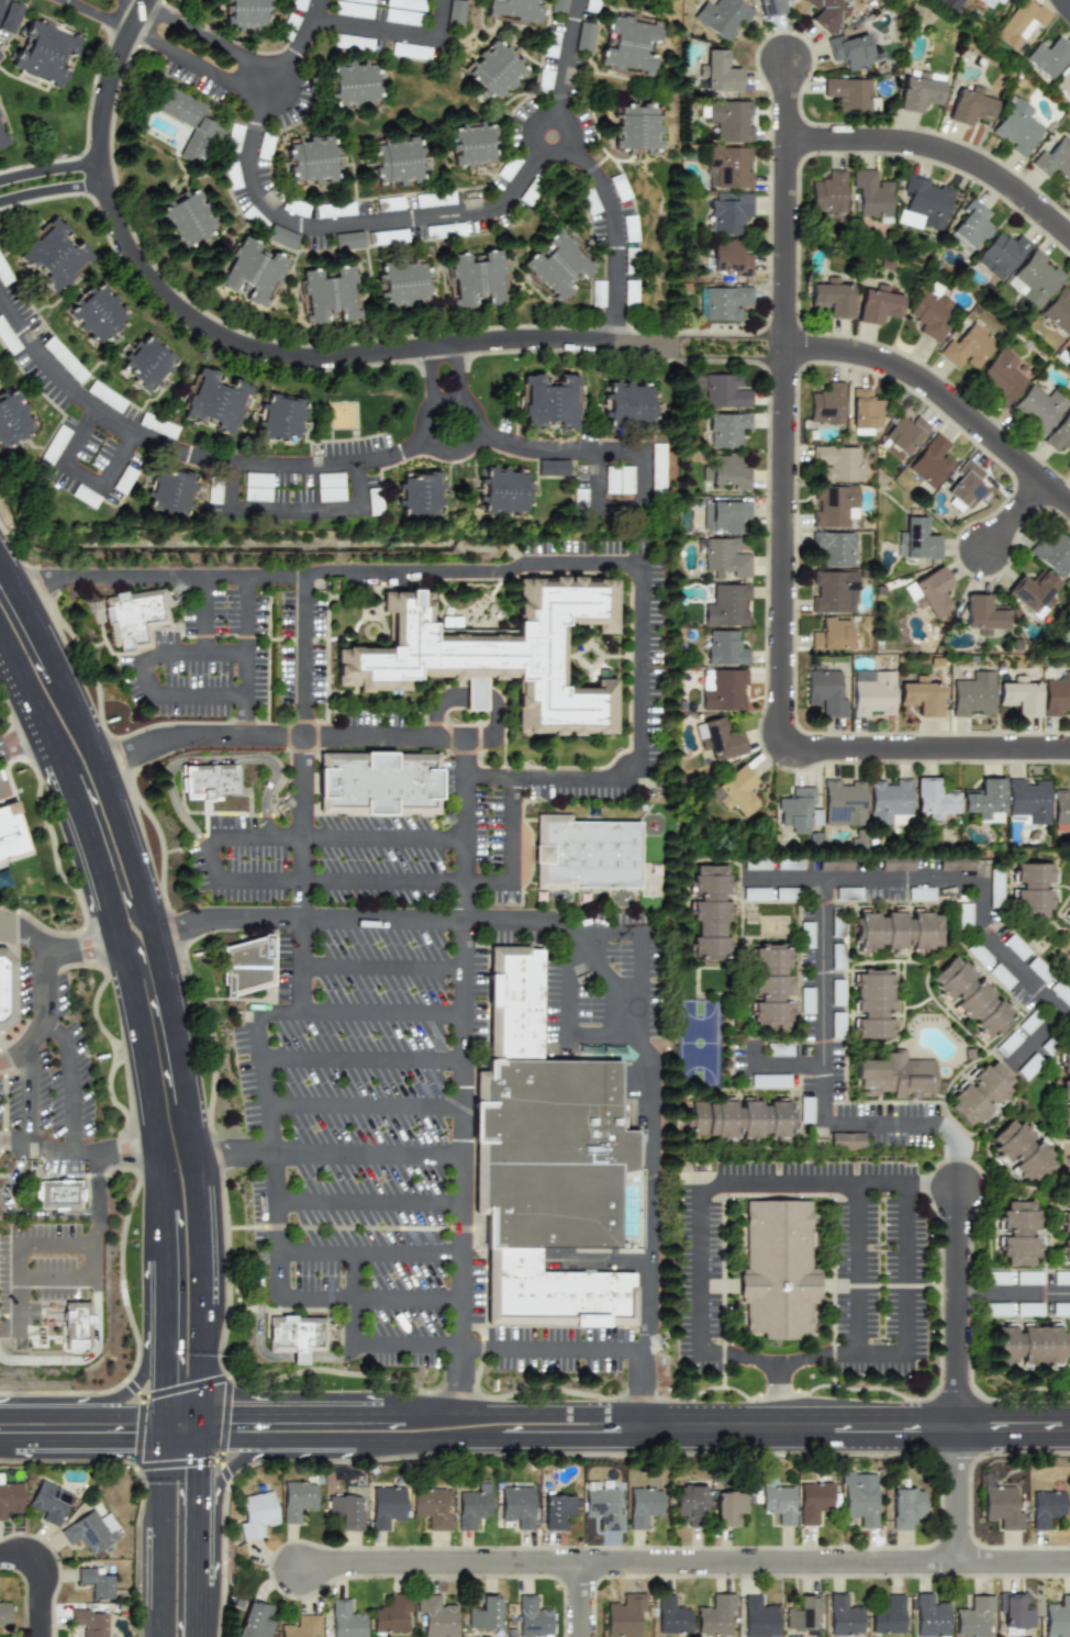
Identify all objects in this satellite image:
building: (990, 2)
building: (950, 3)
road: (1067, 3)
building: (561, 7)
building: (770, 7)
road: (3, 8)
building: (517, 8)
building: (250, 11)
building: (459, 13)
building: (826, 13)
building: (722, 16)
building: (1019, 23)
street lamp: (795, 31)
road: (395, 34)
building: (589, 35)
road: (208, 37)
road: (302, 38)
building: (632, 43)
road: (164, 47)
building: (48, 51)
building: (849, 51)
building: (1048, 56)
road: (566, 68)
building: (495, 70)
building: (718, 71)
building: (357, 81)
building: (1063, 83)
building: (918, 93)
building: (848, 94)
building: (970, 107)
building: (191, 120)
building: (731, 120)
street lamp: (893, 123)
building: (643, 126)
building: (1017, 126)
building: (3, 134)
street lamp: (771, 144)
building: (476, 145)
road: (941, 149)
building: (1055, 158)
building: (315, 159)
building: (400, 159)
building: (729, 166)
road: (52, 167)
building: (828, 192)
building: (871, 193)
road: (53, 194)
building: (926, 201)
building: (728, 212)
street lamp: (1016, 213)
building: (190, 216)
road: (356, 224)
building: (969, 226)
road: (616, 230)
building: (287, 235)
building: (354, 241)
building: (56, 255)
building: (1001, 255)
building: (729, 257)
building: (562, 266)
building: (254, 270)
building: (1034, 278)
building: (481, 279)
building: (409, 282)
street lamp: (769, 283)
building: (333, 293)
building: (832, 298)
building: (726, 302)
building: (878, 305)
building: (1058, 310)
building: (99, 312)
building: (930, 313)
street lamp: (818, 332)
road: (729, 337)
road: (253, 346)
building: (968, 347)
road: (729, 357)
building: (152, 360)
building: (1001, 377)
road: (460, 390)
building: (725, 391)
street lamp: (909, 393)
road: (436, 394)
road: (943, 394)
road: (450, 402)
building: (218, 403)
building: (551, 403)
building: (828, 404)
building: (627, 405)
building: (1038, 408)
building: (863, 409)
street lamp: (768, 413)
building: (282, 416)
building: (13, 420)
building: (727, 428)
building: (1059, 434)
building: (904, 435)
street lamp: (1035, 450)
road: (560, 453)
road: (181, 454)
road: (455, 455)
building: (930, 461)
building: (837, 463)
building: (727, 472)
road: (88, 478)
building: (963, 487)
building: (506, 490)
building: (175, 493)
building: (424, 494)
building: (833, 505)
road: (623, 511)
road: (333, 514)
road: (1015, 515)
road: (258, 516)
building: (724, 516)
street lamp: (802, 530)
building: (916, 539)
road: (784, 545)
building: (834, 547)
road: (500, 548)
building: (1052, 553)
building: (724, 557)
road: (522, 566)
street lamp: (973, 578)
building: (933, 591)
building: (834, 592)
building: (1033, 592)
building: (911, 593)
road: (21, 598)
building: (726, 605)
building: (981, 613)
road: (207, 615)
building: (132, 620)
building: (832, 636)
building: (725, 648)
building: (505, 650)
road: (247, 657)
road: (605, 657)
road: (304, 658)
street lamp: (767, 667)
road: (149, 678)
building: (722, 689)
building: (825, 692)
building: (872, 692)
building: (972, 694)
building: (1056, 694)
road: (479, 695)
building: (921, 695)
building: (1019, 695)
street lamp: (854, 732)
building: (700, 736)
building: (721, 739)
road: (20, 745)
road: (213, 761)
street lamp: (1008, 766)
street lamp: (30, 770)
building: (211, 784)
building: (376, 784)
road: (2, 786)
building: (737, 791)
building: (933, 799)
building: (889, 800)
building: (1028, 800)
building: (985, 801)
building: (844, 802)
building: (1061, 806)
building: (799, 810)
building: (10, 832)
building: (589, 856)
building: (757, 862)
building: (789, 862)
building: (898, 862)
building: (952, 862)
building: (835, 864)
road: (951, 883)
road: (264, 884)
building: (995, 886)
building: (1035, 892)
building: (755, 893)
building: (848, 893)
road: (469, 894)
road: (121, 906)
building: (711, 912)
building: (963, 913)
building: (1068, 915)
building: (1069, 917)
building: (1069, 924)
building: (901, 934)
road: (29, 935)
building: (806, 935)
road: (639, 936)
building: (1015, 947)
road: (586, 949)
building: (978, 954)
building: (1061, 955)
road: (170, 962)
building: (246, 967)
building: (1038, 969)
road: (386, 970)
road: (153, 972)
building: (1001, 976)
building: (9, 990)
building: (772, 991)
building: (1061, 992)
road: (48, 994)
building: (973, 999)
building: (513, 1005)
building: (806, 1005)
building: (876, 1006)
road: (568, 1022)
road: (285, 1023)
road: (386, 1023)
road: (129, 1025)
road: (1038, 1043)
building: (1007, 1044)
road: (365, 1065)
road: (783, 1066)
building: (896, 1078)
road: (75, 1085)
building: (983, 1096)
road: (822, 1099)
building: (1068, 1099)
road: (31, 1100)
road: (368, 1106)
building: (805, 1110)
building: (742, 1121)
building: (846, 1140)
road: (79, 1152)
road: (332, 1152)
building: (1024, 1154)
building: (548, 1155)
building: (1066, 1160)
road: (704, 1185)
building: (63, 1194)
road: (371, 1205)
road: (45, 1213)
building: (1069, 1218)
road: (94, 1226)
building: (1019, 1235)
road: (19, 1244)
road: (371, 1254)
road: (859, 1268)
building: (778, 1271)
road: (73, 1274)
building: (1000, 1277)
building: (1028, 1278)
building: (553, 1294)
road: (1014, 1295)
road: (371, 1300)
road: (959, 1307)
building: (1026, 1309)
building: (1061, 1309)
road: (260, 1314)
building: (75, 1323)
road: (19, 1324)
building: (296, 1338)
building: (1032, 1346)
road: (363, 1347)
road: (588, 1349)
road: (895, 1351)
road: (334, 1362)
road: (298, 1363)
traffic signals: (165, 1382)
road: (102, 1401)
road: (423, 1415)
road: (82, 1416)
road: (183, 1416)
traffic signals: (235, 1416)
road: (165, 1428)
road: (202, 1428)
road: (856, 1428)
road: (423, 1439)
road: (5, 1440)
road: (88, 1441)
traffic signals: (129, 1441)
road: (183, 1441)
road: (238, 1465)
traffic signals: (202, 1475)
road: (202, 1480)
road: (960, 1494)
building: (297, 1500)
building: (778, 1501)
building: (814, 1501)
building: (49, 1502)
building: (691, 1504)
building: (861, 1504)
building: (472, 1505)
building: (386, 1506)
building: (517, 1506)
building: (644, 1506)
building: (1002, 1506)
building: (433, 1507)
building: (603, 1507)
building: (729, 1507)
building: (906, 1507)
building: (1046, 1507)
building: (346, 1511)
building: (557, 1511)
building: (256, 1514)
building: (90, 1532)
road: (161, 1538)
road: (686, 1562)
road: (199, 1578)
road: (42, 1579)
building: (96, 1582)
road: (582, 1600)
building: (1014, 1611)
building: (4, 1613)
building: (483, 1613)
building: (803, 1613)
building: (392, 1614)
building: (624, 1615)
building: (715, 1615)
building: (888, 1615)
building: (435, 1616)
building: (671, 1616)
building: (843, 1616)
building: (929, 1616)
building: (532, 1617)
building: (758, 1617)
building: (973, 1617)
building: (1057, 1618)
building: (255, 1619)
building: (346, 1621)
building: (90, 1622)
building: (301, 1626)

